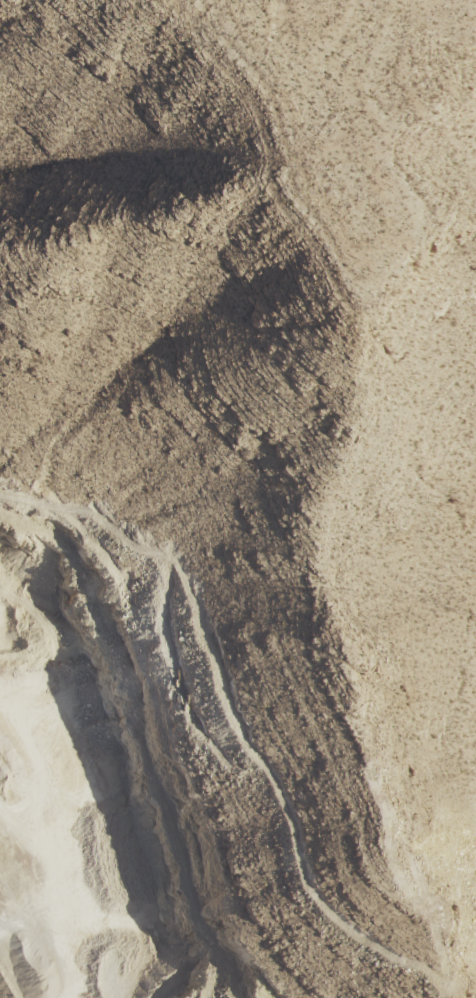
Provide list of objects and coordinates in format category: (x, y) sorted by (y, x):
quarry: (54, 827)

